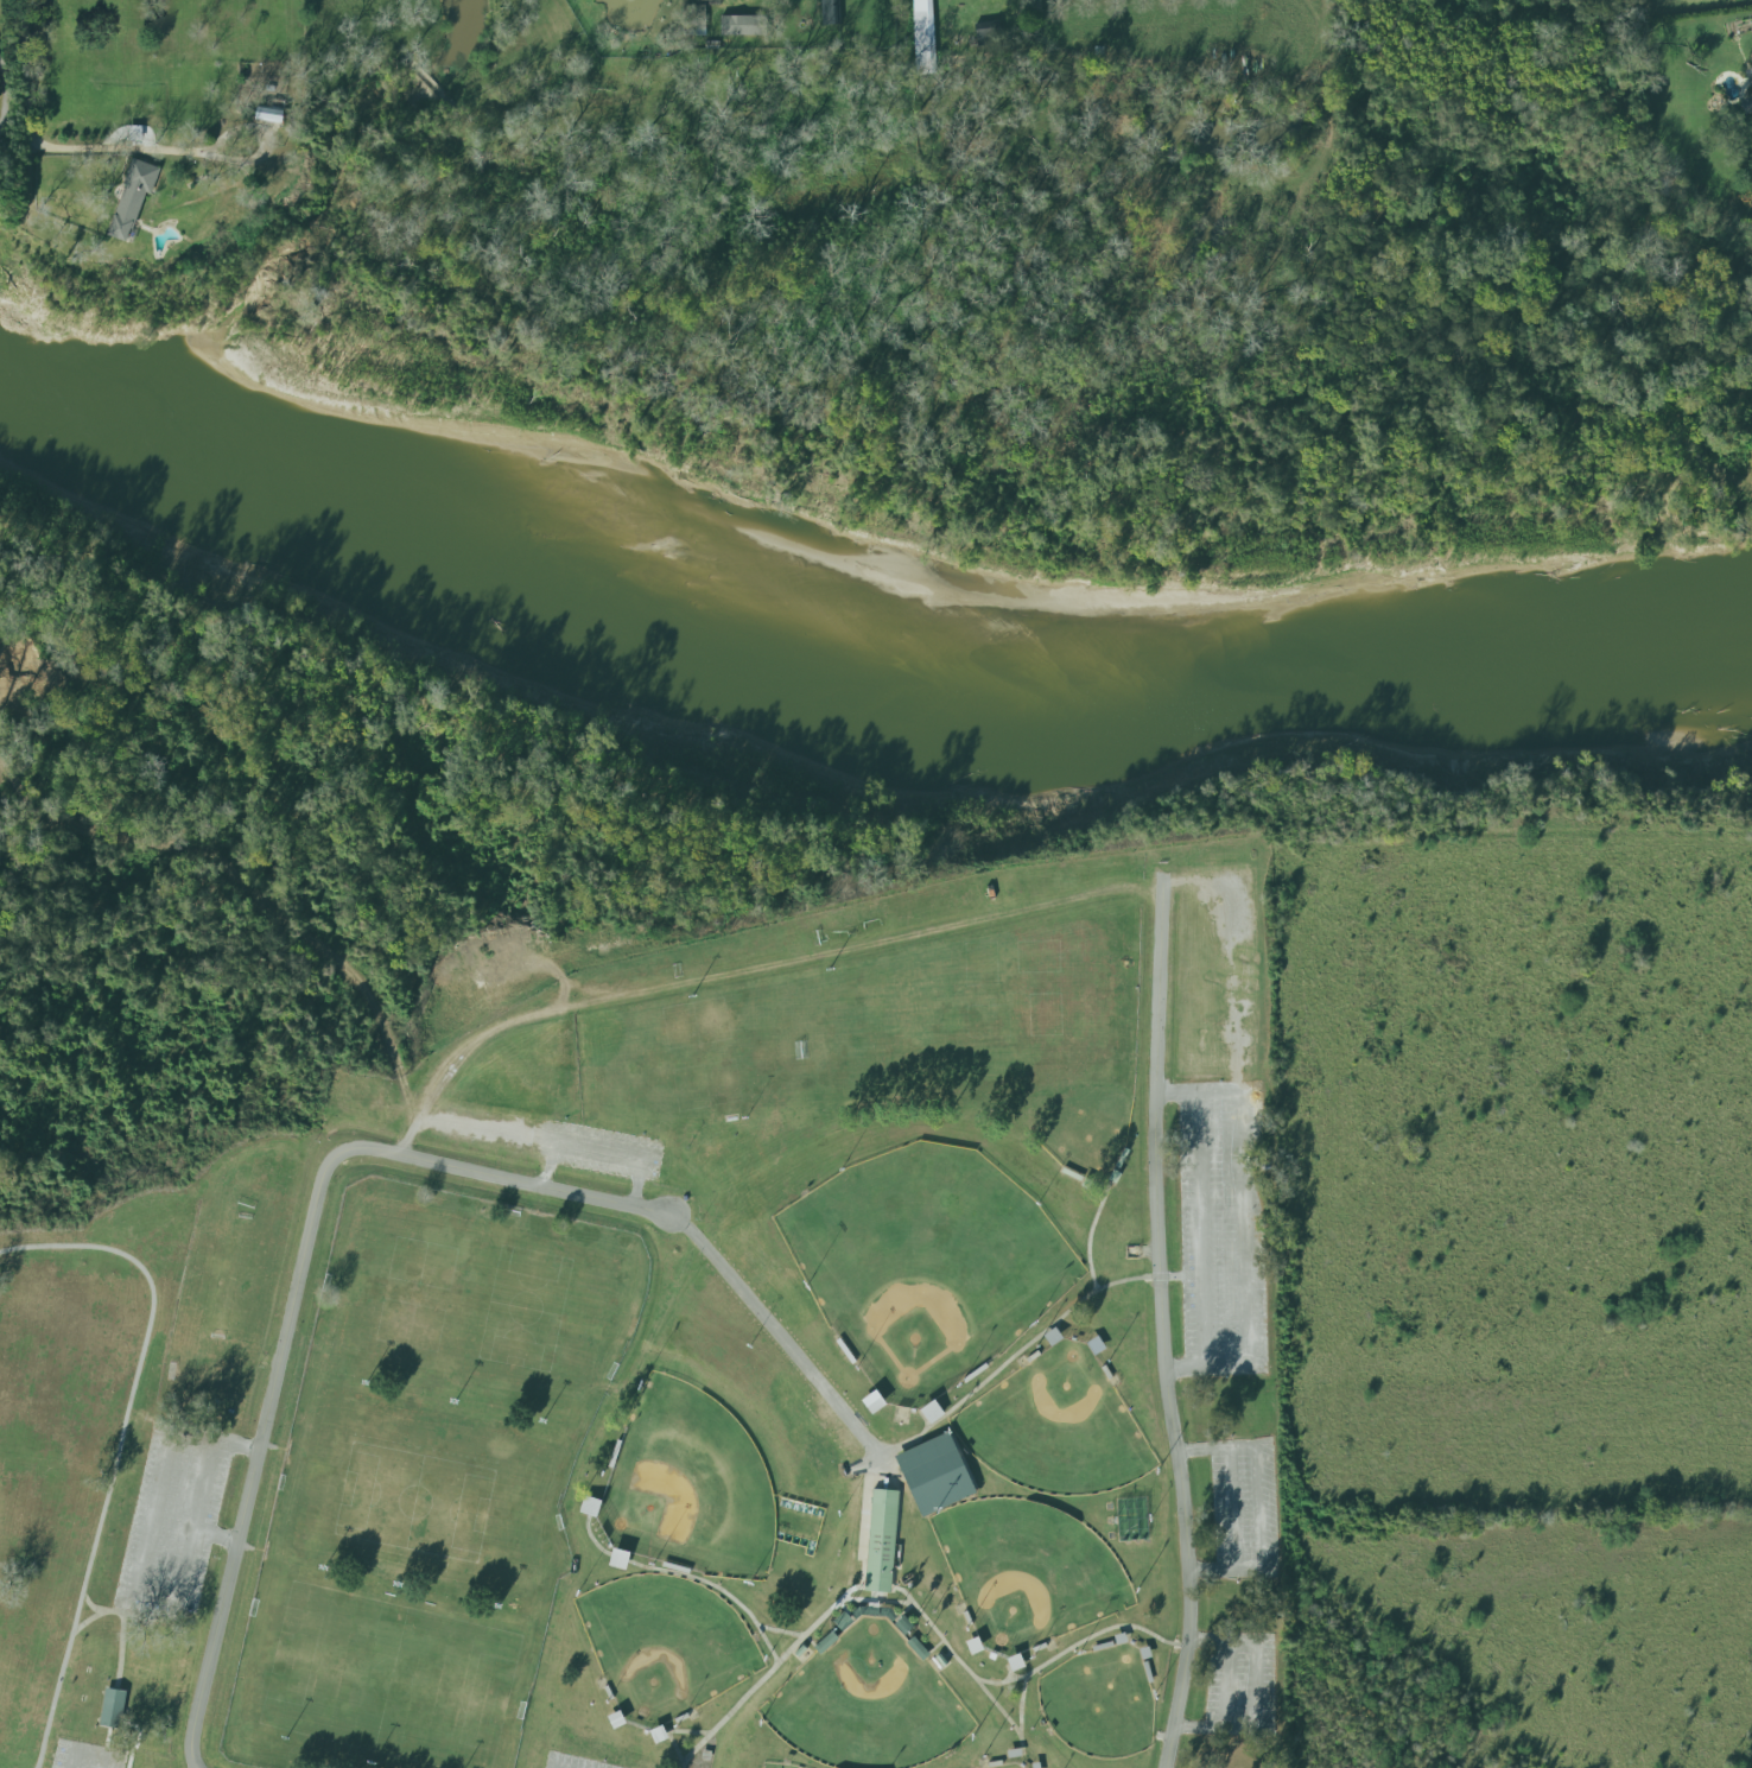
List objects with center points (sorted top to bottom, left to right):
park: (1472, 4)
building: (829, 12)
building: (743, 25)
building: (988, 31)
building: (923, 37)
building: (1751, 57)
road: (33, 72)
building: (1750, 77)
road: (5, 91)
building: (1747, 104)
building: (268, 115)
road: (192, 151)
building: (133, 198)
river: (859, 639)
road: (744, 967)
park: (1080, 999)
park: (980, 1012)
park: (862, 1032)
park: (700, 1056)
park: (1086, 1133)
road: (1245, 1228)
road: (1201, 1229)
road: (1091, 1235)
park: (926, 1266)
road: (294, 1292)
park: (477, 1303)
road: (1047, 1327)
road: (1161, 1331)
road: (777, 1333)
park: (1056, 1427)
road: (216, 1439)
road: (120, 1445)
road: (882, 1456)
park: (722, 1468)
building: (935, 1475)
park: (431, 1490)
road: (1232, 1507)
road: (1257, 1508)
road: (867, 1510)
road: (215, 1536)
building: (881, 1540)
building: (618, 1559)
park: (1027, 1571)
road: (687, 1576)
road: (862, 1586)
road: (856, 1601)
road: (155, 1602)
road: (118, 1612)
road: (87, 1620)
road: (782, 1631)
building: (826, 1643)
road: (1079, 1643)
park: (665, 1645)
road: (121, 1650)
park: (393, 1680)
road: (1226, 1684)
road: (1253, 1691)
park: (867, 1703)
park: (1100, 1703)
road: (1021, 1704)
building: (113, 1707)
road: (669, 1730)
road: (90, 1753)
park: (776, 1766)
park: (1009, 1766)

